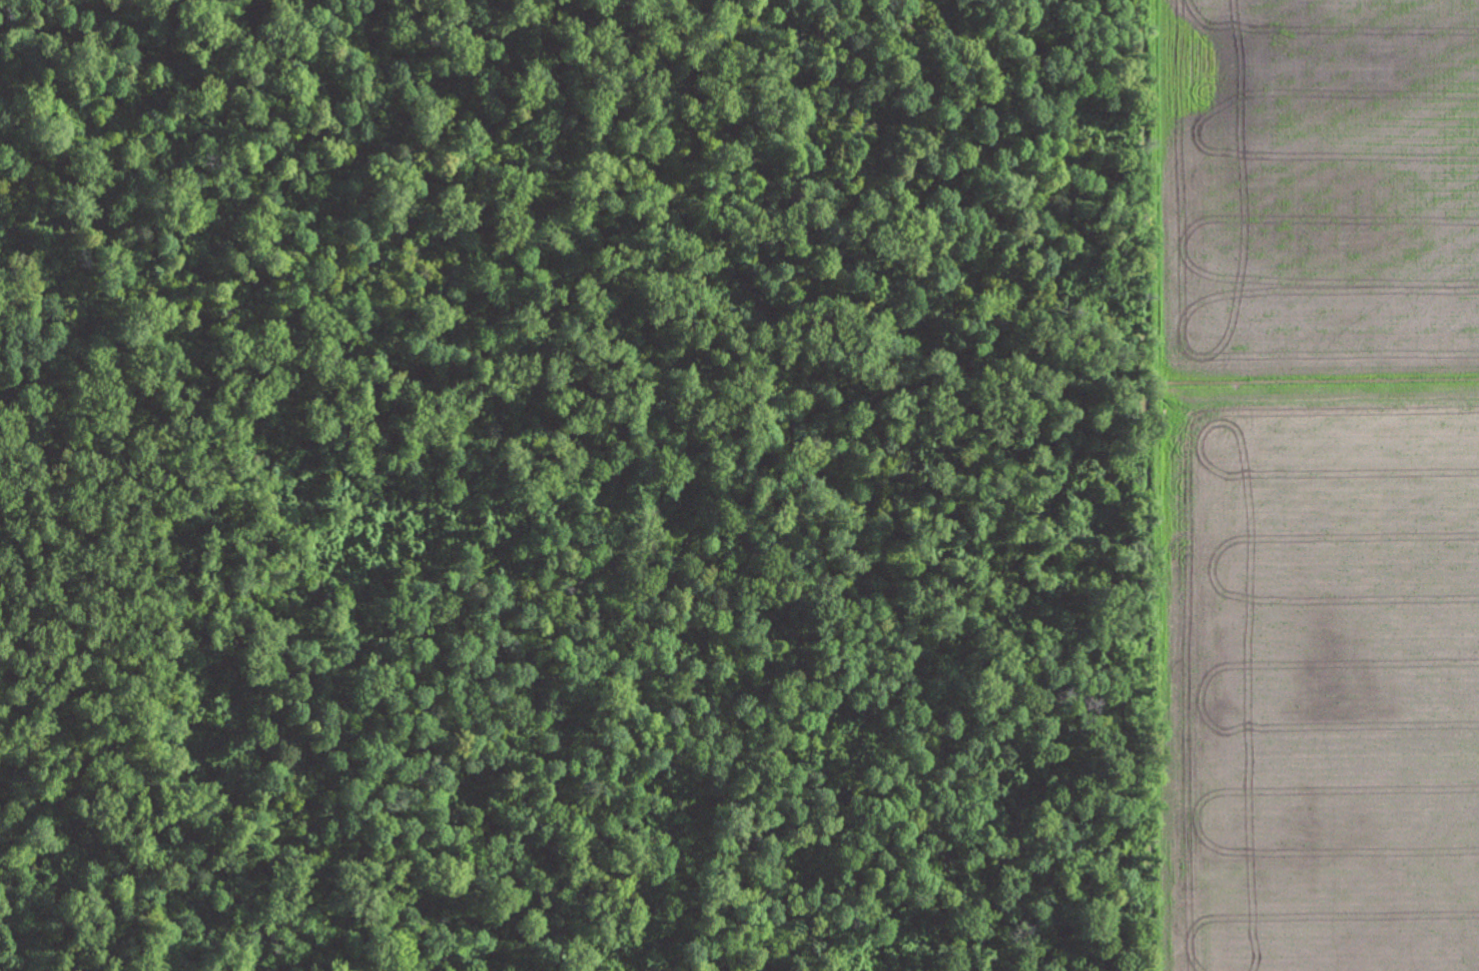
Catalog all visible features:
park: (566, 485)

